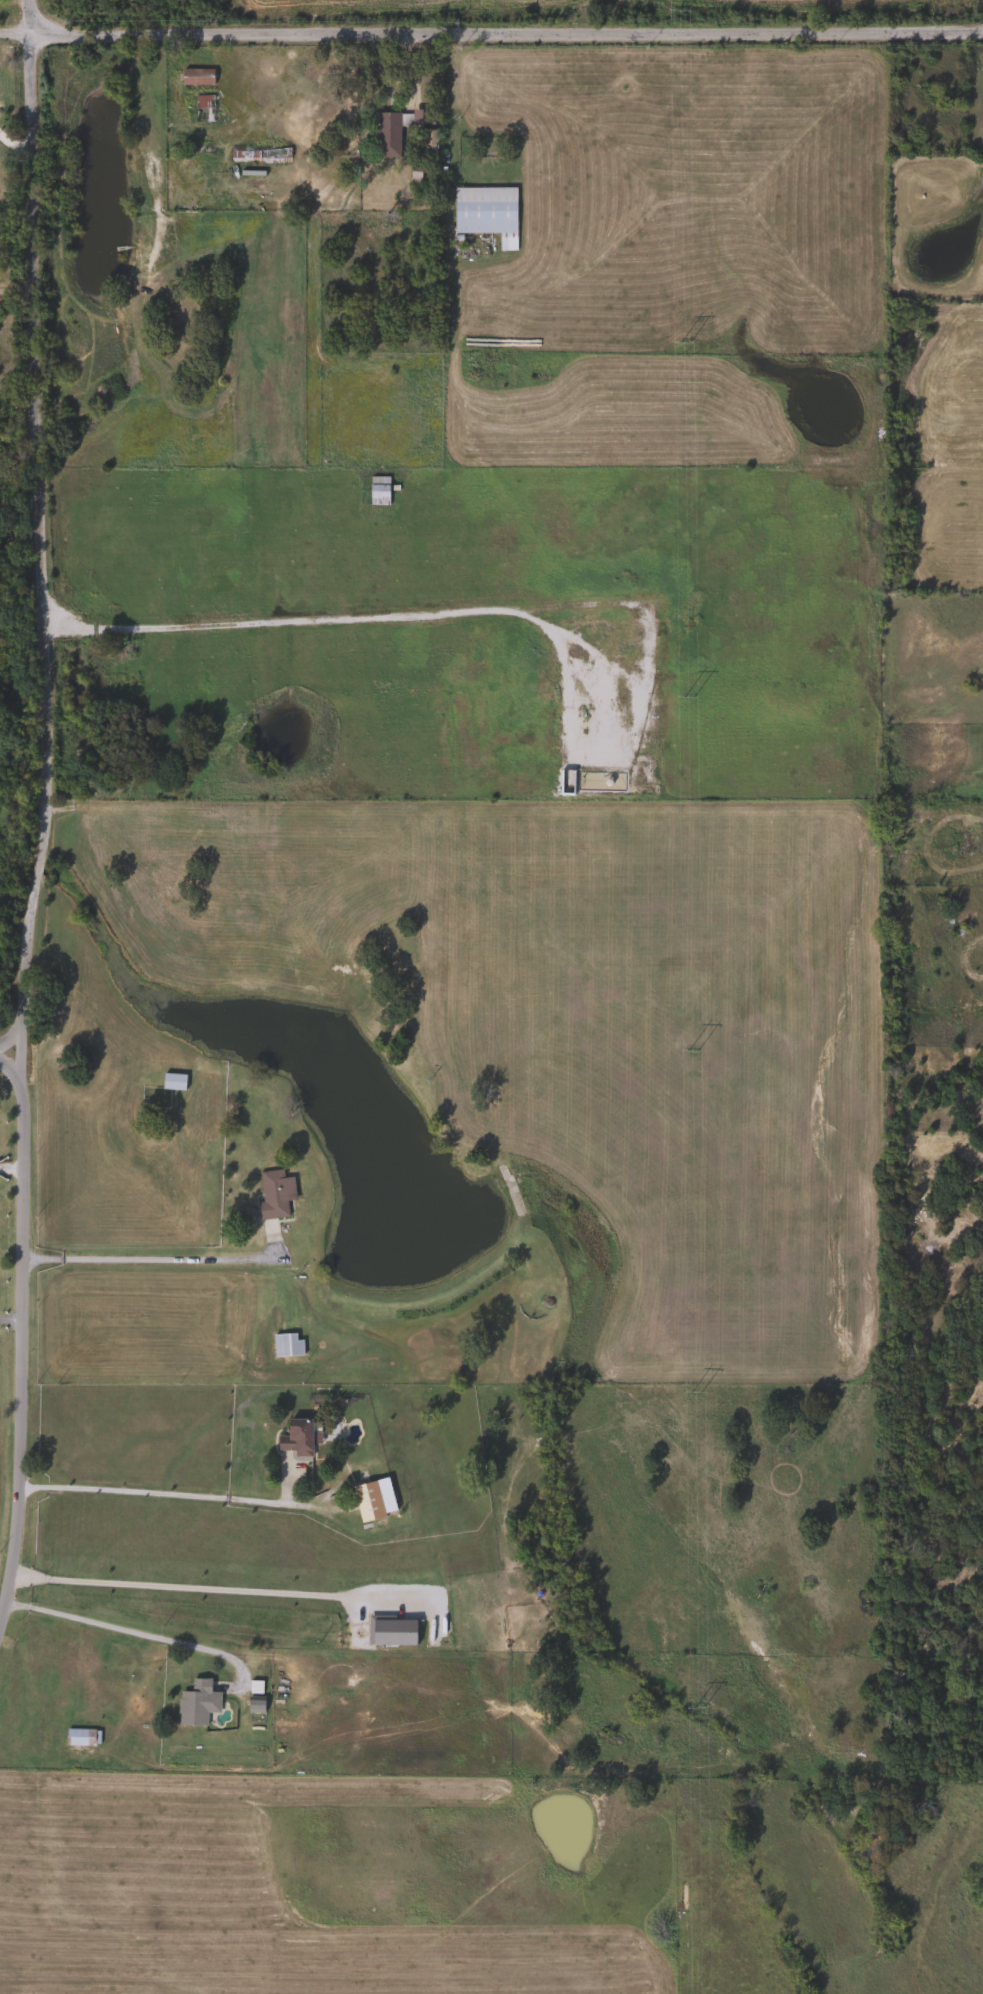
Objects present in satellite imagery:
power tower: (680, 10)
road: (491, 30)
building: (194, 77)
building: (201, 109)
building: (385, 135)
road: (12, 146)
building: (257, 154)
building: (482, 211)
road: (15, 290)
power tower: (684, 341)
road: (32, 429)
building: (376, 491)
road: (330, 620)
power tower: (688, 696)
road: (35, 868)
road: (10, 1037)
power tower: (692, 1051)
road: (9, 1071)
building: (170, 1080)
road: (10, 1168)
building: (272, 1194)
road: (18, 1240)
road: (128, 1248)
park: (2, 1266)
road: (8, 1318)
building: (284, 1344)
power tower: (695, 1394)
building: (296, 1438)
road: (149, 1486)
building: (365, 1500)
road: (187, 1587)
road: (130, 1631)
building: (194, 1703)
building: (253, 1705)
power tower: (699, 1708)
building: (79, 1737)

